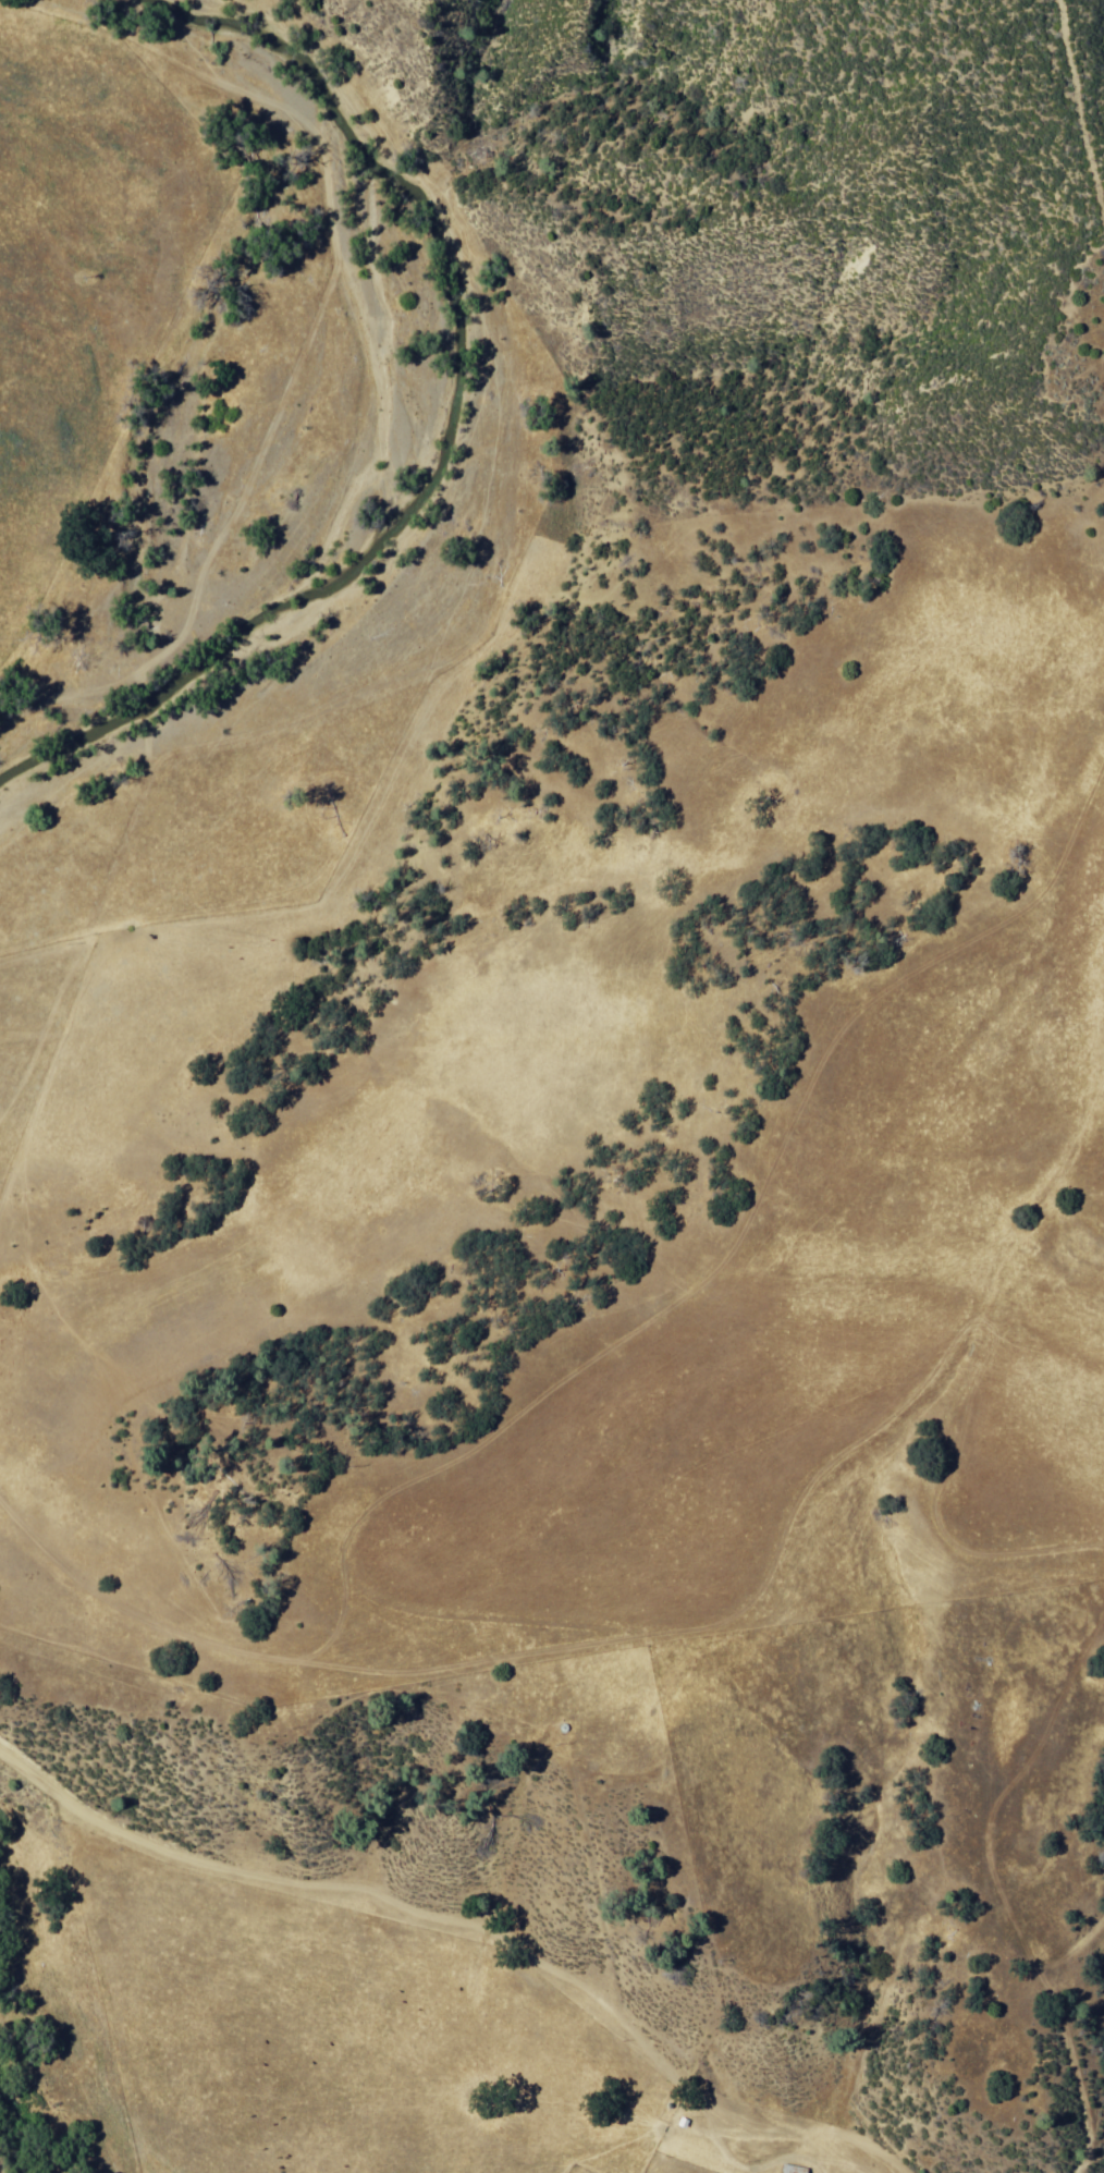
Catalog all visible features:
road: (851, 2157)
building: (788, 2170)

